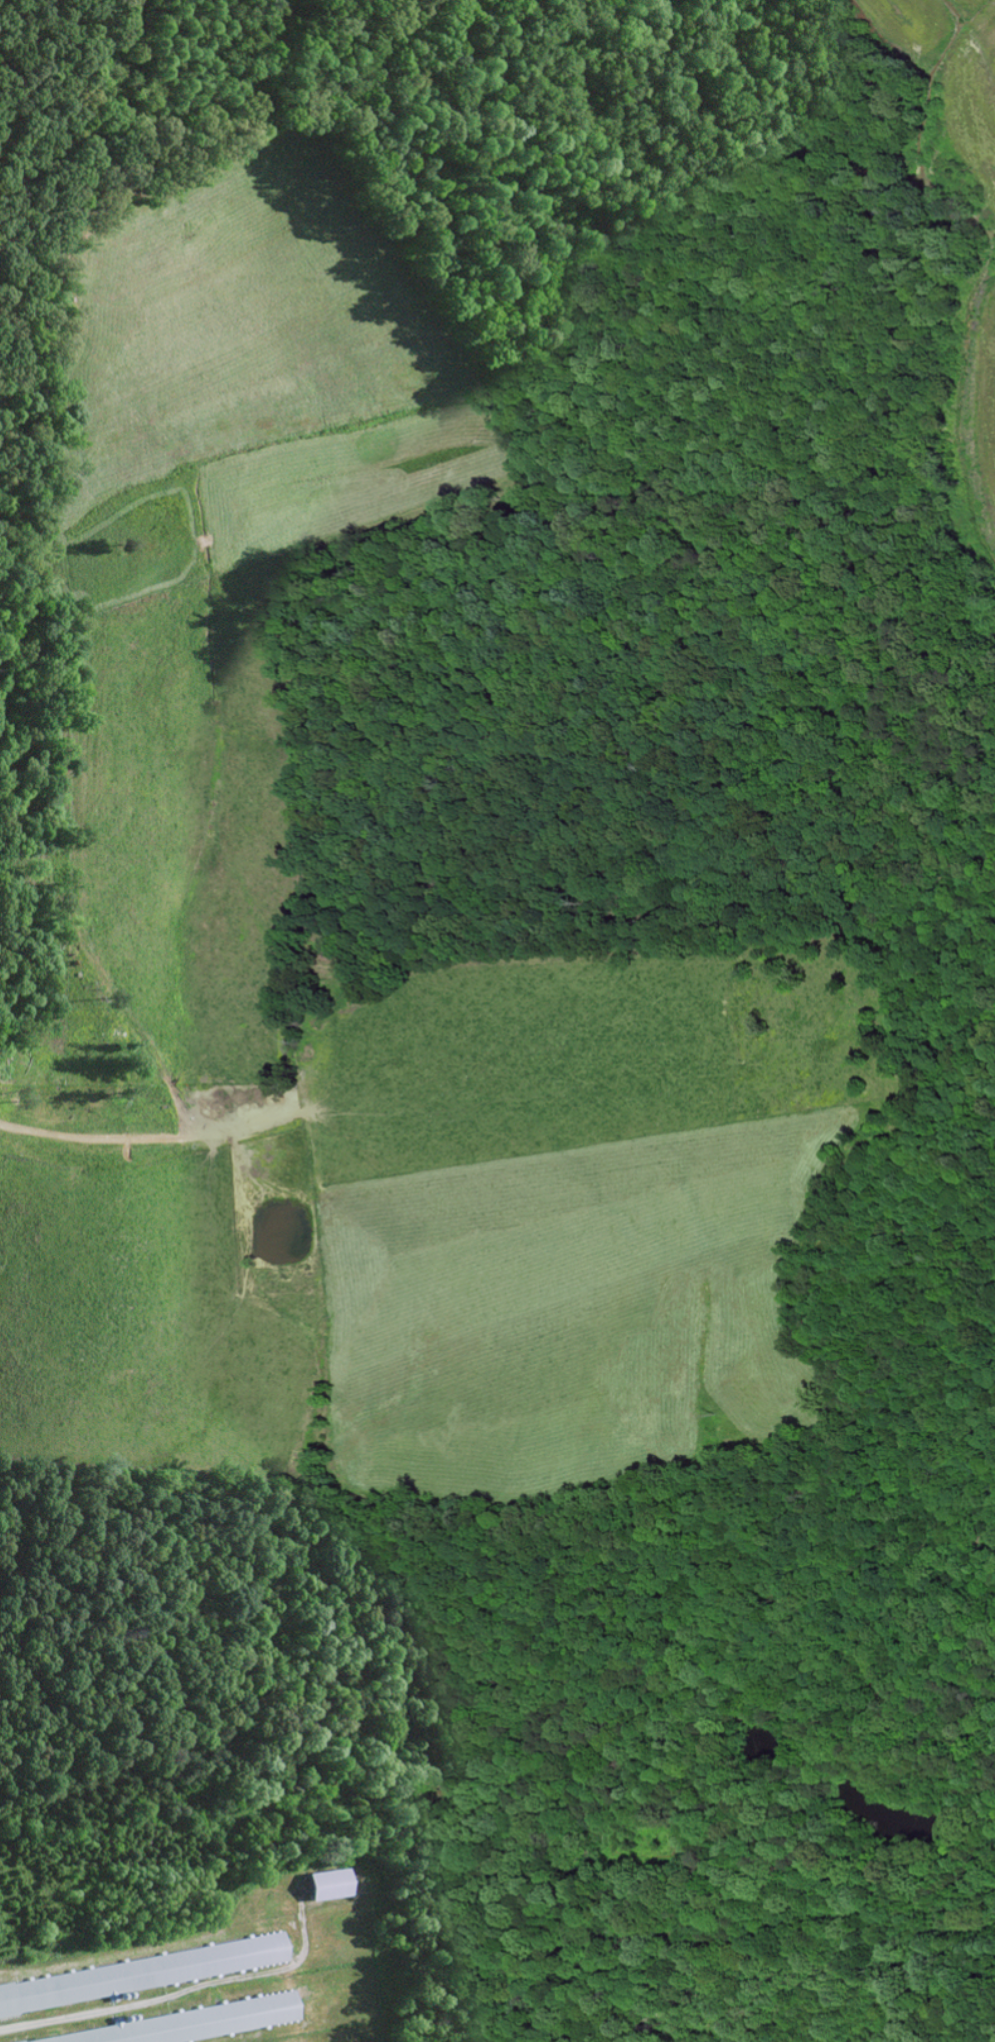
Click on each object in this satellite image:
building: (327, 1883)
building: (136, 1974)
building: (195, 2023)

